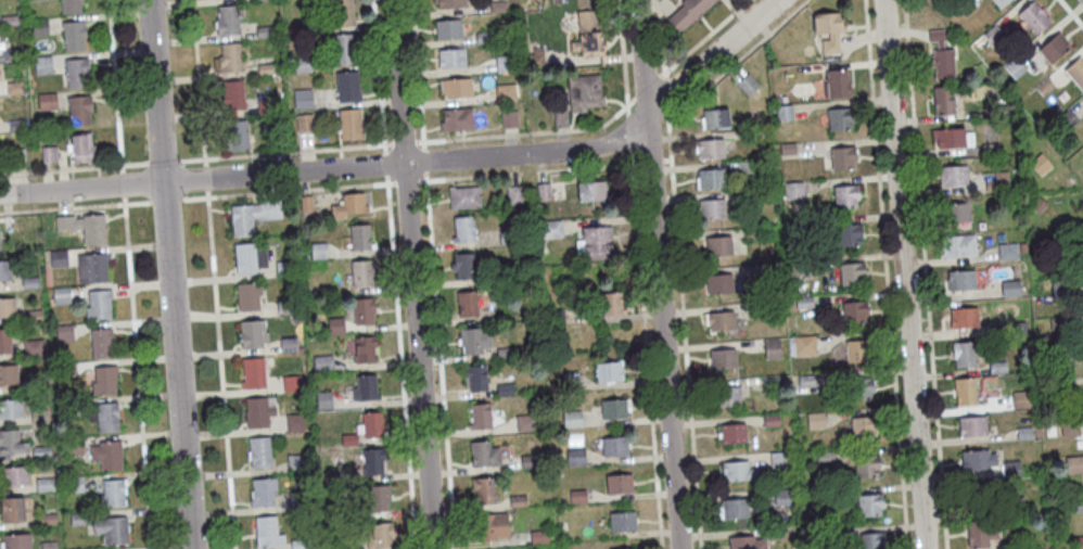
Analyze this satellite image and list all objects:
building: (260, 0)
building: (36, 1)
building: (1001, 3)
building: (449, 4)
building: (967, 7)
building: (69, 8)
building: (498, 9)
road: (1071, 12)
building: (341, 14)
building: (689, 14)
building: (1034, 21)
building: (9, 23)
building: (227, 23)
building: (39, 29)
building: (298, 30)
building: (447, 31)
building: (828, 33)
building: (264, 34)
road: (661, 36)
building: (73, 37)
road: (703, 37)
building: (587, 38)
building: (994, 38)
building: (484, 39)
building: (343, 51)
building: (1054, 51)
road: (623, 54)
building: (10, 56)
building: (535, 59)
building: (941, 59)
road: (737, 60)
building: (228, 61)
building: (451, 61)
building: (302, 66)
building: (505, 66)
building: (42, 67)
road: (378, 71)
building: (1015, 71)
building: (266, 72)
road: (418, 74)
building: (76, 75)
building: (1075, 75)
road: (198, 82)
road: (115, 85)
road: (648, 86)
building: (748, 87)
building: (837, 87)
building: (347, 89)
building: (14, 90)
building: (456, 90)
building: (1044, 90)
building: (584, 94)
road: (664, 94)
building: (506, 95)
building: (232, 98)
building: (303, 101)
building: (47, 103)
building: (942, 103)
building: (268, 108)
building: (79, 113)
building: (997, 113)
building: (560, 116)
building: (785, 116)
building: (457, 122)
building: (509, 122)
building: (715, 122)
building: (839, 122)
building: (1067, 122)
building: (305, 125)
building: (351, 127)
building: (16, 128)
road: (629, 129)
road: (528, 131)
building: (234, 137)
building: (755, 138)
road: (403, 140)
building: (276, 141)
building: (952, 141)
road: (384, 146)
road: (283, 150)
building: (788, 151)
building: (990, 151)
building: (81, 152)
building: (710, 152)
building: (49, 156)
road: (416, 158)
building: (18, 159)
road: (424, 159)
road: (162, 161)
building: (842, 161)
road: (386, 162)
road: (73, 167)
building: (748, 169)
road: (525, 171)
road: (205, 176)
building: (999, 178)
road: (406, 179)
building: (953, 179)
building: (711, 181)
road: (123, 182)
road: (288, 189)
building: (793, 192)
building: (544, 194)
building: (591, 194)
building: (514, 197)
road: (166, 199)
building: (463, 200)
building: (845, 200)
building: (749, 201)
road: (75, 205)
building: (306, 206)
building: (349, 207)
building: (1037, 207)
building: (712, 212)
building: (955, 217)
building: (253, 218)
building: (84, 230)
building: (794, 230)
building: (463, 231)
building: (551, 231)
building: (751, 235)
building: (849, 238)
building: (508, 239)
building: (360, 240)
building: (597, 246)
building: (718, 248)
building: (958, 248)
building: (318, 253)
building: (1008, 254)
building: (250, 260)
building: (58, 261)
building: (463, 268)
building: (92, 270)
building: (799, 270)
building: (284, 271)
building: (4, 273)
road: (173, 273)
road: (411, 273)
road: (658, 273)
building: (752, 274)
road: (885, 274)
road: (904, 274)
road: (925, 274)
building: (361, 276)
building: (851, 277)
building: (961, 283)
building: (29, 285)
building: (718, 286)
building: (1010, 291)
building: (1060, 291)
building: (61, 297)
building: (249, 299)
building: (803, 305)
building: (467, 306)
building: (610, 307)
building: (98, 308)
building: (285, 309)
building: (7, 310)
building: (530, 312)
building: (362, 314)
building: (854, 316)
building: (33, 319)
building: (556, 319)
building: (964, 320)
building: (721, 324)
building: (1058, 325)
building: (335, 329)
road: (684, 331)
building: (997, 331)
building: (64, 335)
building: (250, 337)
building: (474, 343)
building: (5, 344)
building: (101, 346)
building: (289, 347)
road: (646, 348)
building: (804, 348)
building: (33, 349)
building: (772, 352)
building: (366, 353)
building: (856, 353)
building: (507, 355)
building: (965, 357)
road: (439, 359)
building: (1052, 359)
road: (400, 361)
building: (723, 362)
building: (323, 367)
road: (220, 368)
building: (66, 370)
building: (997, 370)
road: (137, 371)
building: (609, 374)
building: (253, 376)
building: (8, 378)
building: (476, 381)
building: (103, 382)
building: (570, 383)
building: (770, 385)
building: (806, 385)
building: (36, 386)
building: (291, 386)
building: (365, 392)
building: (505, 392)
building: (861, 392)
building: (965, 395)
building: (727, 399)
building: (1021, 401)
building: (323, 403)
building: (11, 411)
building: (614, 411)
building: (258, 416)
building: (39, 419)
building: (480, 419)
building: (106, 420)
building: (572, 421)
building: (815, 422)
building: (770, 423)
building: (294, 425)
building: (524, 425)
building: (370, 429)
building: (1070, 429)
building: (863, 430)
building: (972, 430)
building: (1023, 435)
building: (732, 436)
building: (348, 442)
building: (11, 446)
building: (73, 448)
building: (614, 449)
building: (41, 454)
building: (259, 455)
building: (106, 458)
building: (484, 458)
building: (575, 459)
building: (825, 459)
building: (780, 461)
building: (532, 463)
building: (978, 463)
building: (374, 464)
building: (296, 465)
building: (1074, 467)
building: (865, 470)
building: (1010, 471)
building: (739, 474)
building: (14, 478)
building: (341, 480)
building: (44, 486)
building: (75, 486)
building: (619, 487)
building: (483, 494)
building: (263, 495)
building: (112, 496)
building: (577, 498)
building: (782, 498)
building: (974, 499)
building: (379, 501)
building: (300, 502)
building: (518, 503)
building: (1078, 506)
building: (869, 508)
building: (1016, 508)
building: (735, 511)
building: (11, 512)
building: (48, 521)
building: (78, 521)
building: (622, 524)
building: (492, 529)
building: (112, 533)
building: (267, 535)
building: (776, 536)
building: (979, 537)
building: (380, 538)
building: (538, 538)
building: (831, 539)
building: (16, 541)
building: (870, 542)
building: (1078, 544)
building: (300, 545)
building: (746, 545)
building: (48, 546)
building: (1009, 546)
building: (624, 548)

